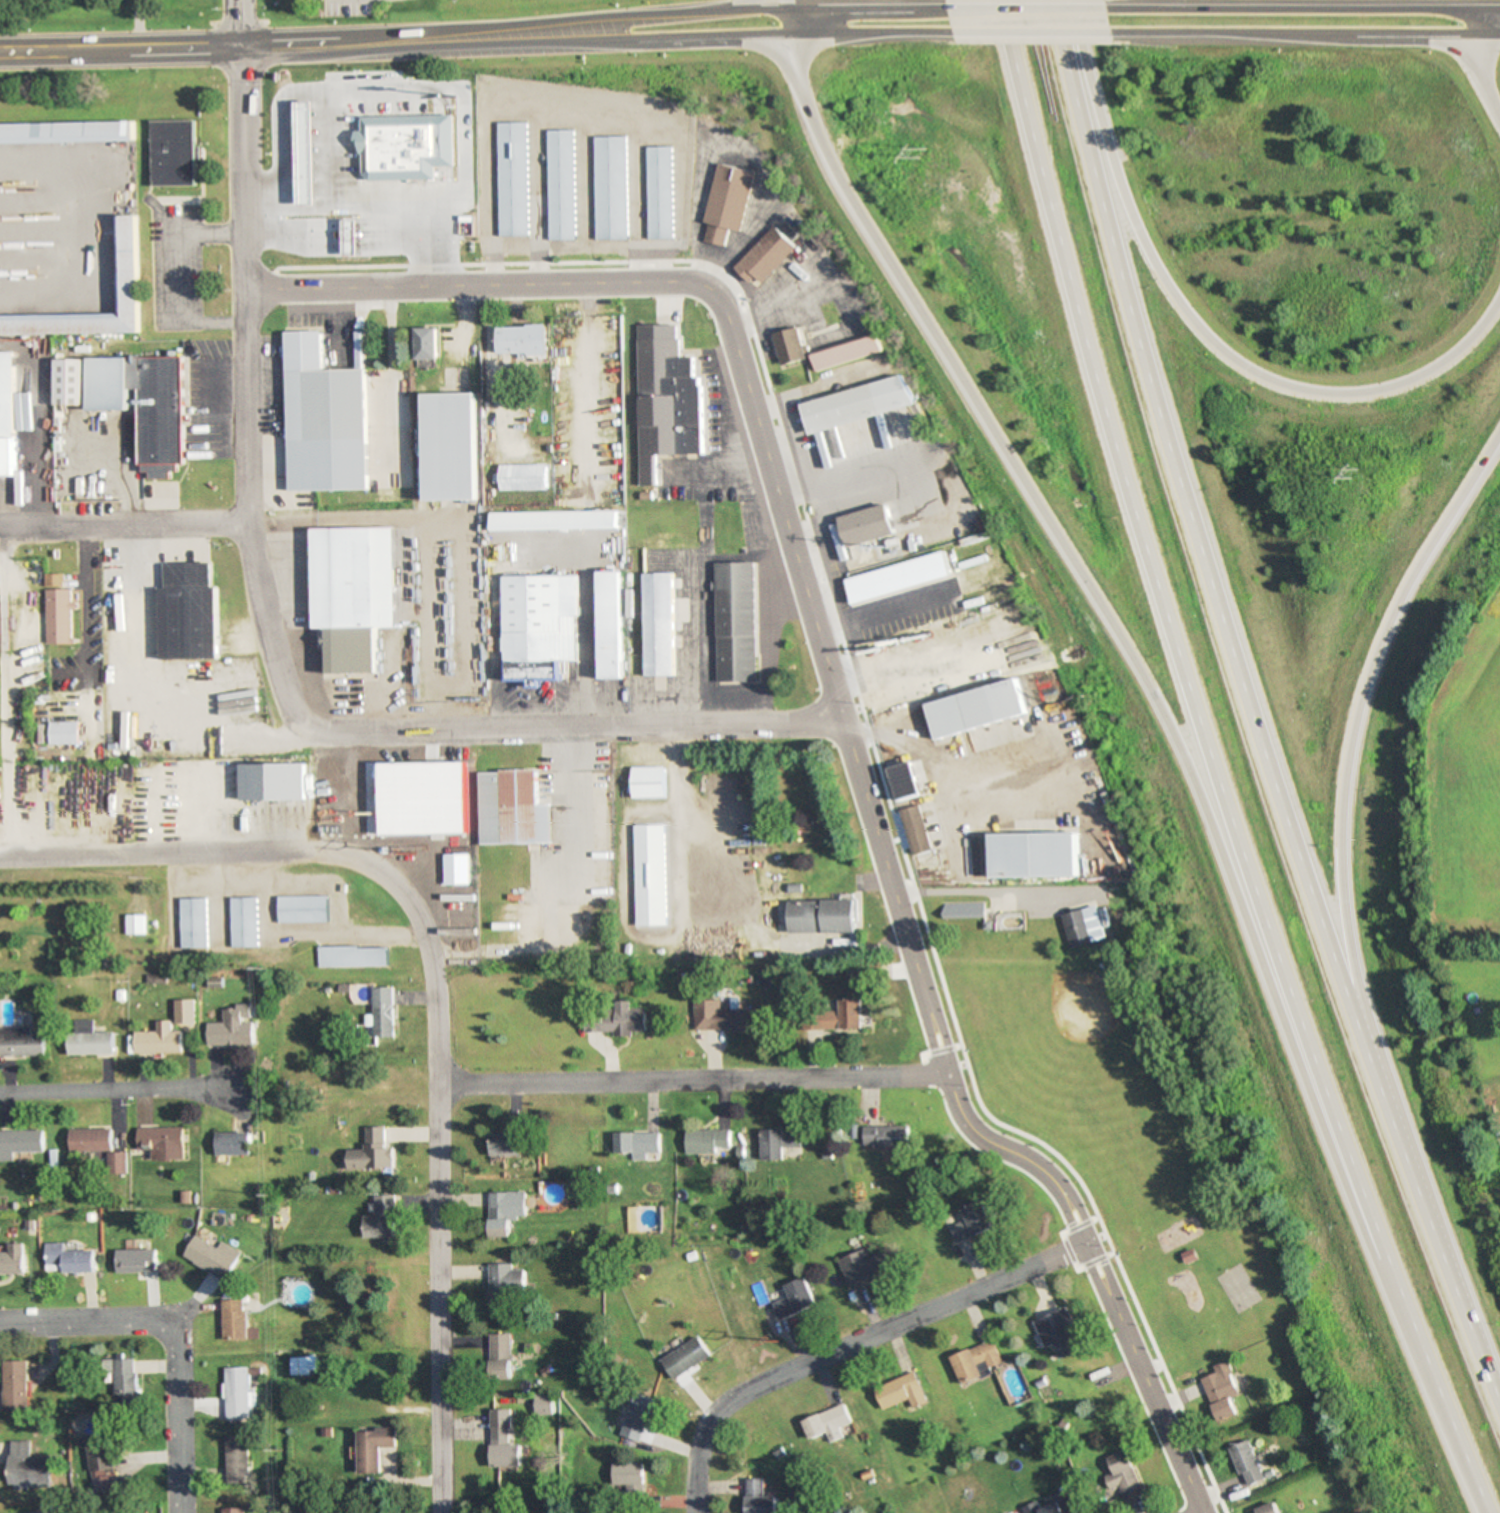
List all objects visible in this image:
road: (787, 4)
road: (746, 5)
road: (869, 9)
road: (1032, 9)
road: (1306, 9)
road: (1499, 10)
road: (661, 14)
road: (788, 21)
road: (236, 24)
road: (1039, 33)
road: (1309, 33)
road: (747, 34)
road: (268, 46)
road: (1481, 64)
building: (67, 133)
building: (379, 147)
building: (174, 153)
power tower: (917, 154)
building: (303, 161)
building: (511, 179)
building: (559, 185)
building: (609, 188)
building: (658, 193)
building: (726, 203)
building: (350, 236)
building: (764, 257)
building: (128, 264)
road: (1198, 326)
building: (521, 339)
building: (425, 343)
building: (788, 346)
building: (844, 352)
building: (69, 382)
building: (144, 401)
building: (665, 404)
building: (856, 404)
building: (7, 415)
building: (323, 420)
building: (450, 446)
power tower: (1361, 473)
power tower: (142, 476)
building: (522, 478)
building: (554, 521)
building: (867, 526)
road: (124, 528)
building: (898, 578)
building: (353, 593)
building: (57, 610)
building: (187, 612)
building: (735, 622)
building: (658, 624)
building: (608, 625)
building: (539, 626)
road: (275, 658)
road: (1155, 706)
building: (977, 709)
road: (1247, 716)
road: (841, 718)
road: (1360, 725)
building: (64, 732)
road: (1213, 766)
building: (905, 781)
building: (647, 782)
building: (245, 795)
building: (444, 797)
building: (509, 808)
road: (559, 818)
building: (915, 830)
building: (433, 838)
power tower: (418, 854)
building: (1036, 855)
building: (649, 875)
building: (302, 909)
building: (962, 910)
building: (823, 916)
building: (192, 923)
building: (243, 923)
building: (1082, 927)
building: (351, 957)
building: (857, 979)
road: (432, 992)
building: (186, 1011)
building: (381, 1012)
building: (833, 1017)
building: (613, 1018)
building: (721, 1018)
building: (232, 1025)
building: (92, 1040)
building: (161, 1040)
building: (23, 1042)
road: (693, 1079)
road: (119, 1090)
park: (1117, 1134)
building: (886, 1137)
building: (706, 1140)
building: (780, 1142)
building: (20, 1143)
building: (164, 1143)
building: (235, 1143)
building: (635, 1144)
building: (505, 1145)
building: (101, 1147)
building: (371, 1152)
building: (505, 1212)
building: (382, 1218)
building: (971, 1223)
building: (214, 1258)
building: (72, 1260)
building: (15, 1261)
building: (139, 1262)
building: (864, 1269)
building: (509, 1286)
building: (1234, 1288)
building: (796, 1300)
building: (236, 1322)
road: (174, 1331)
building: (1057, 1333)
power tower: (772, 1339)
road: (850, 1346)
building: (502, 1356)
building: (688, 1358)
building: (976, 1363)
building: (299, 1367)
building: (123, 1379)
building: (17, 1386)
building: (1220, 1391)
building: (902, 1392)
building: (237, 1394)
building: (641, 1418)
building: (829, 1424)
building: (506, 1441)
building: (376, 1448)
building: (26, 1459)
building: (239, 1459)
building: (1246, 1463)
building: (106, 1464)
building: (631, 1474)
building: (1122, 1476)
building: (760, 1498)
building: (1052, 1504)
building: (1268, 1508)
building: (48, 1510)
building: (234, 1510)
road: (1202, 1512)

